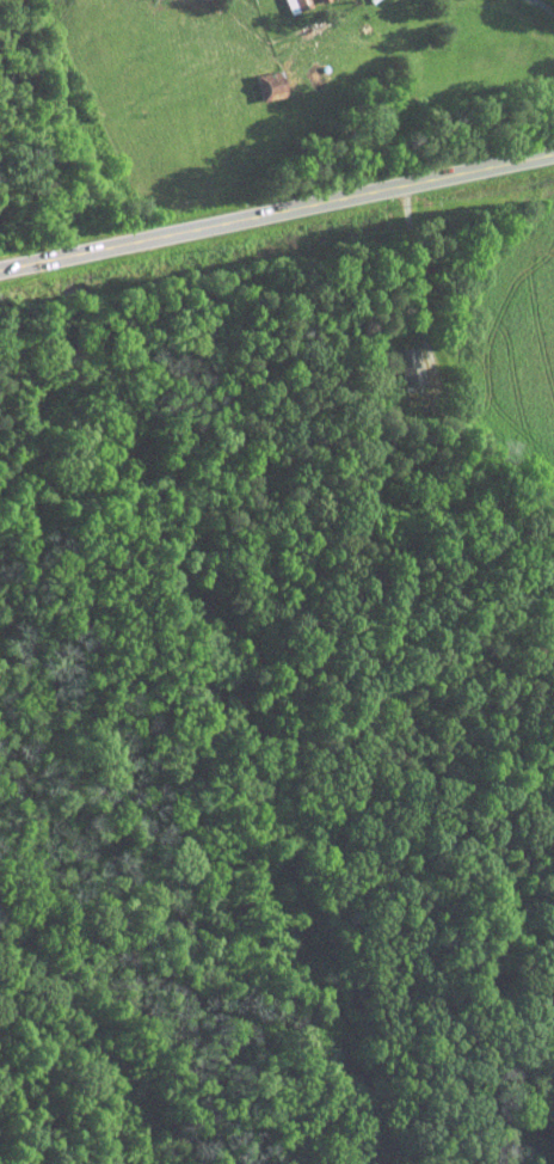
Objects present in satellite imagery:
building: (322, 0)
building: (295, 5)
road: (540, 6)
building: (267, 85)
road: (277, 210)
road: (414, 278)
building: (408, 369)

